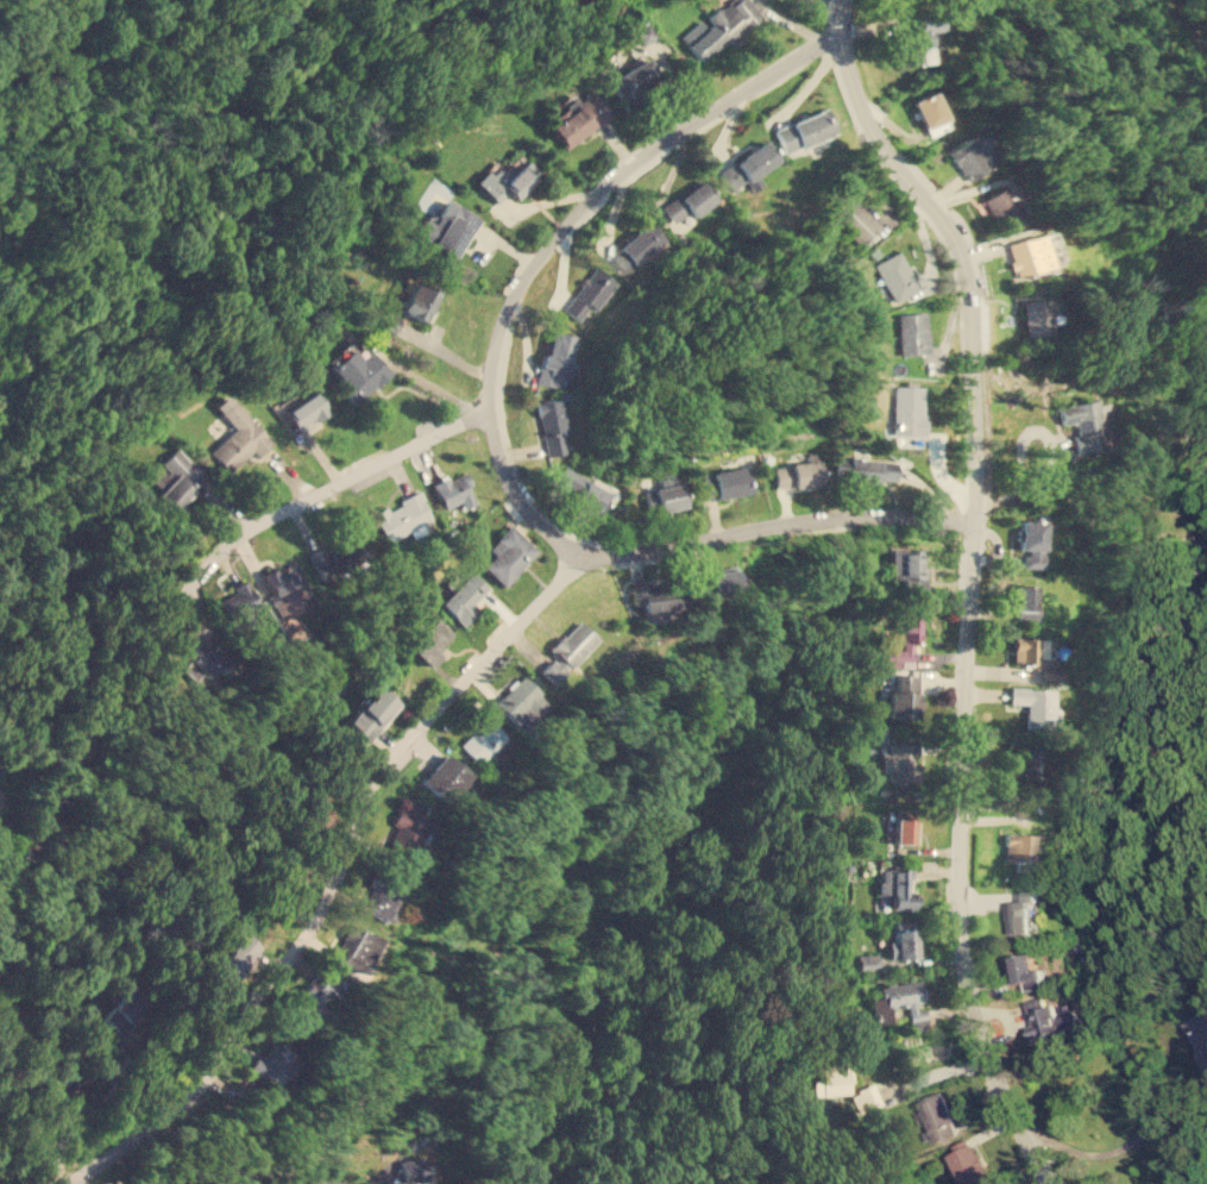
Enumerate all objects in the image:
building: (721, 26)
building: (914, 42)
building: (633, 76)
building: (926, 108)
building: (578, 118)
building: (805, 130)
building: (969, 155)
building: (748, 164)
building: (508, 180)
building: (689, 200)
building: (1004, 202)
building: (856, 219)
building: (447, 227)
building: (637, 244)
building: (1030, 253)
building: (895, 275)
building: (587, 294)
building: (416, 299)
building: (1035, 317)
building: (555, 358)
building: (357, 371)
building: (909, 408)
building: (304, 409)
road: (488, 424)
building: (1088, 424)
building: (551, 426)
building: (239, 438)
building: (863, 469)
building: (798, 471)
building: (176, 478)
building: (727, 482)
building: (454, 489)
building: (662, 491)
building: (402, 516)
building: (1033, 540)
road: (214, 553)
building: (508, 553)
building: (333, 557)
building: (907, 566)
building: (723, 581)
building: (704, 583)
road: (970, 583)
building: (285, 588)
building: (654, 595)
building: (1025, 595)
building: (464, 596)
building: (239, 600)
building: (430, 640)
building: (904, 640)
building: (1027, 649)
building: (566, 650)
building: (197, 654)
building: (903, 694)
building: (520, 702)
building: (1033, 703)
building: (371, 713)
building: (480, 739)
building: (897, 760)
building: (1032, 765)
building: (903, 826)
building: (406, 834)
building: (1019, 850)
road: (327, 876)
building: (898, 887)
building: (379, 897)
building: (1018, 910)
building: (901, 940)
building: (356, 947)
building: (232, 960)
building: (1026, 970)
building: (319, 995)
building: (905, 998)
building: (124, 1007)
building: (1052, 1020)
building: (1197, 1035)
building: (272, 1061)
building: (842, 1086)
building: (937, 1116)
building: (968, 1165)
road: (219, 1167)
building: (414, 1169)

